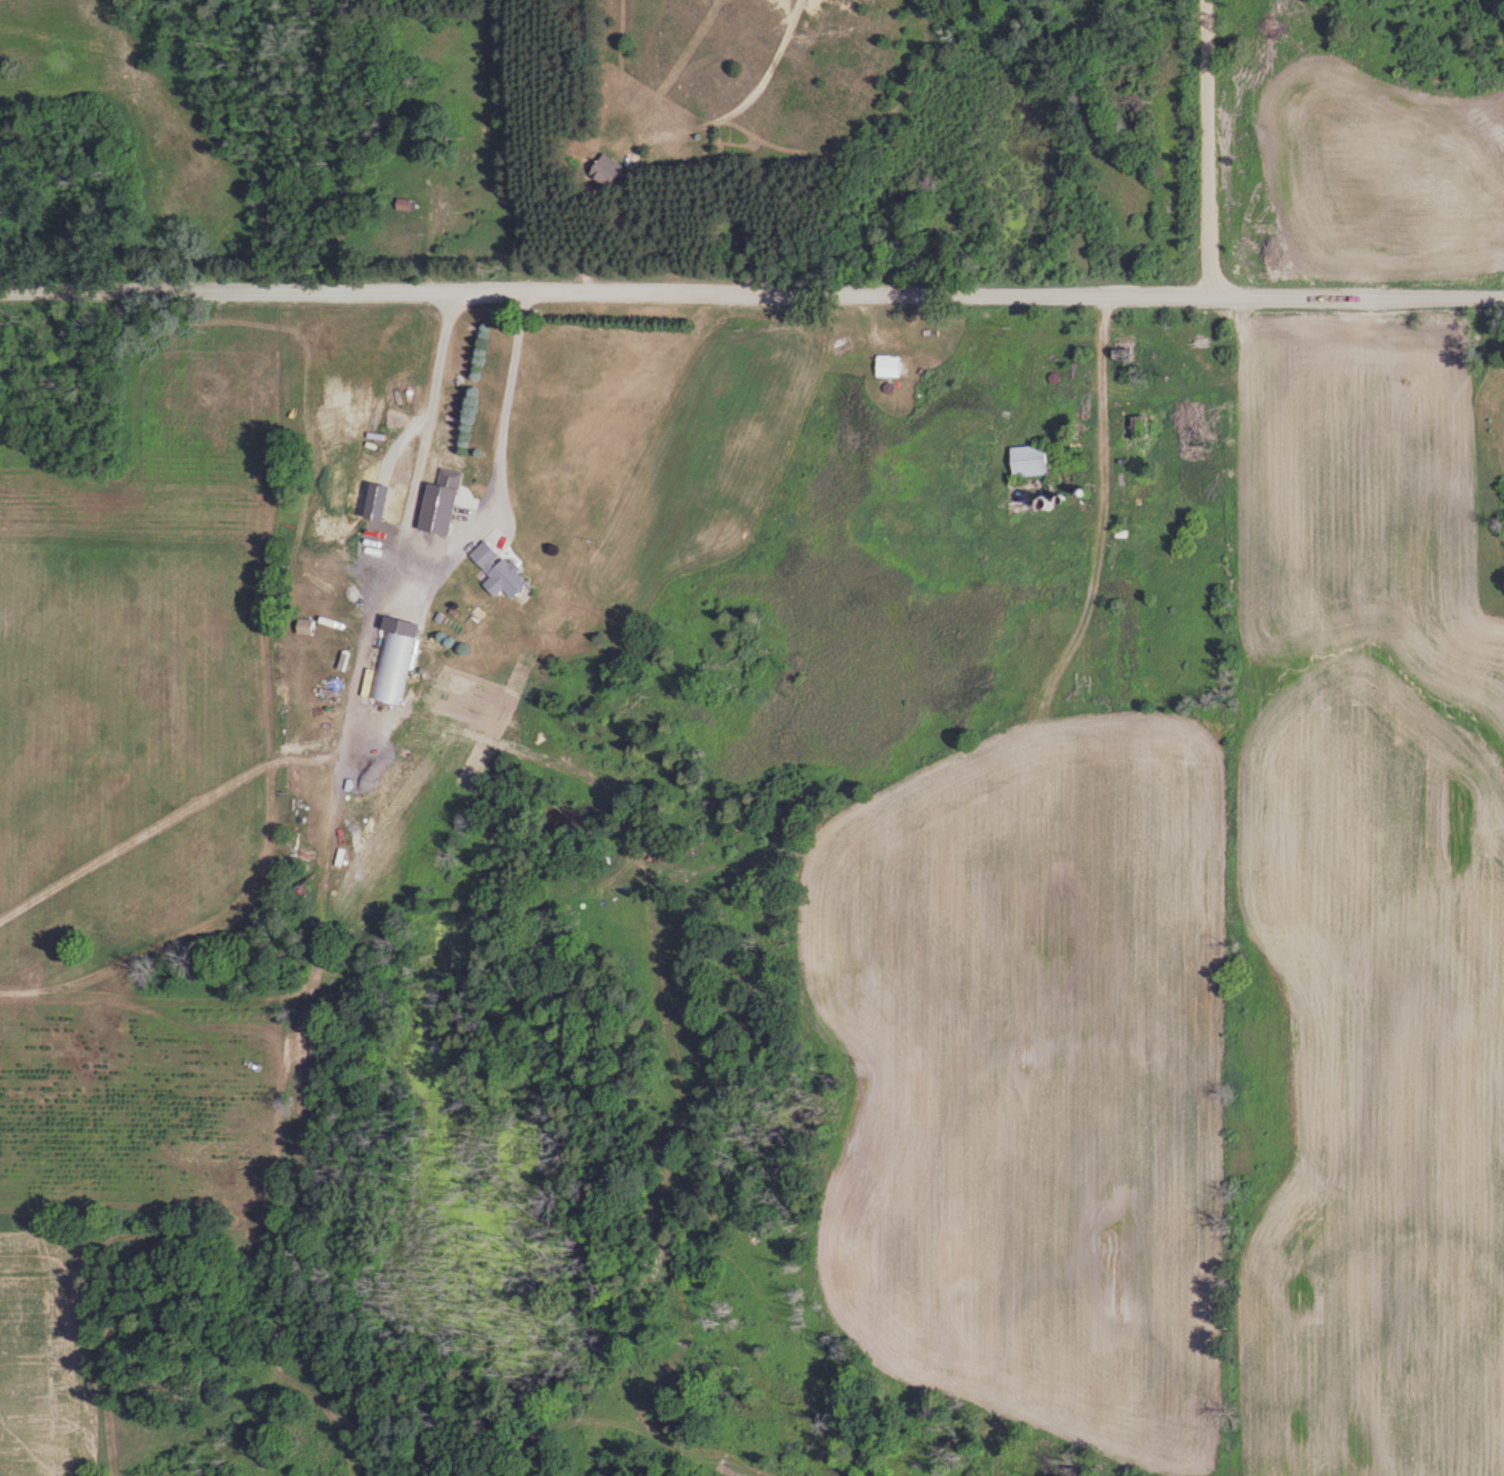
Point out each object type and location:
road: (1207, 148)
building: (605, 170)
building: (404, 204)
road: (752, 294)
building: (887, 366)
road: (1088, 385)
building: (1029, 461)
building: (438, 541)
building: (498, 567)
building: (393, 667)

